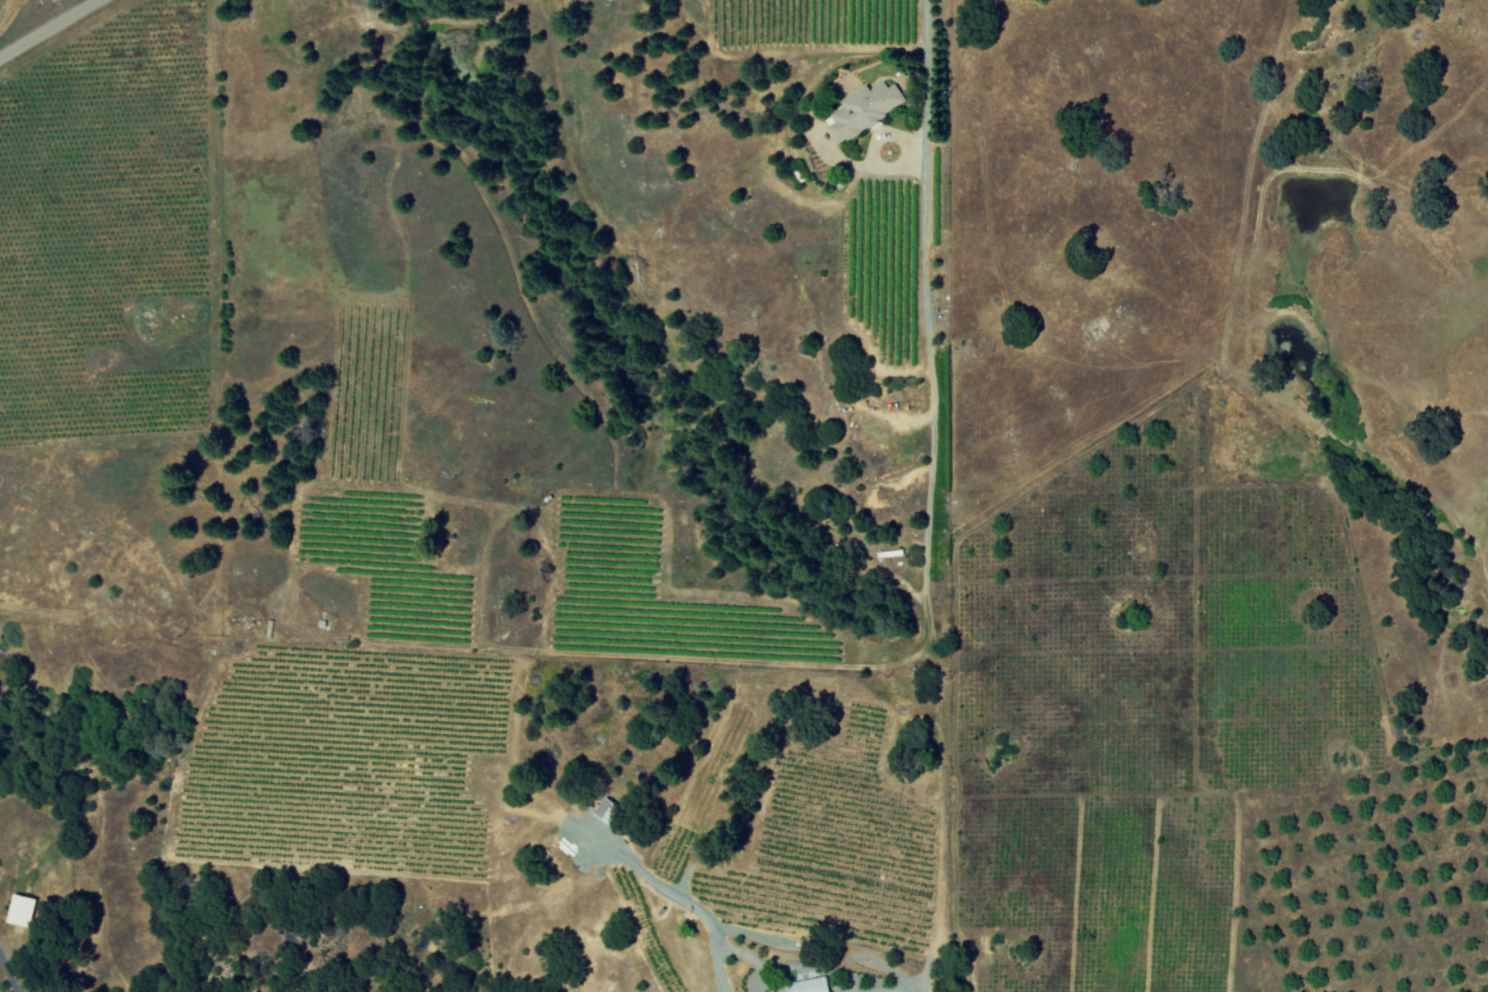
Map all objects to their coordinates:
road: (46, 26)
road: (928, 86)
building: (869, 109)
crop: (110, 227)
road: (929, 361)
building: (611, 808)
road: (684, 897)
building: (25, 908)
road: (8, 974)
building: (819, 984)
building: (772, 990)
building: (783, 990)

